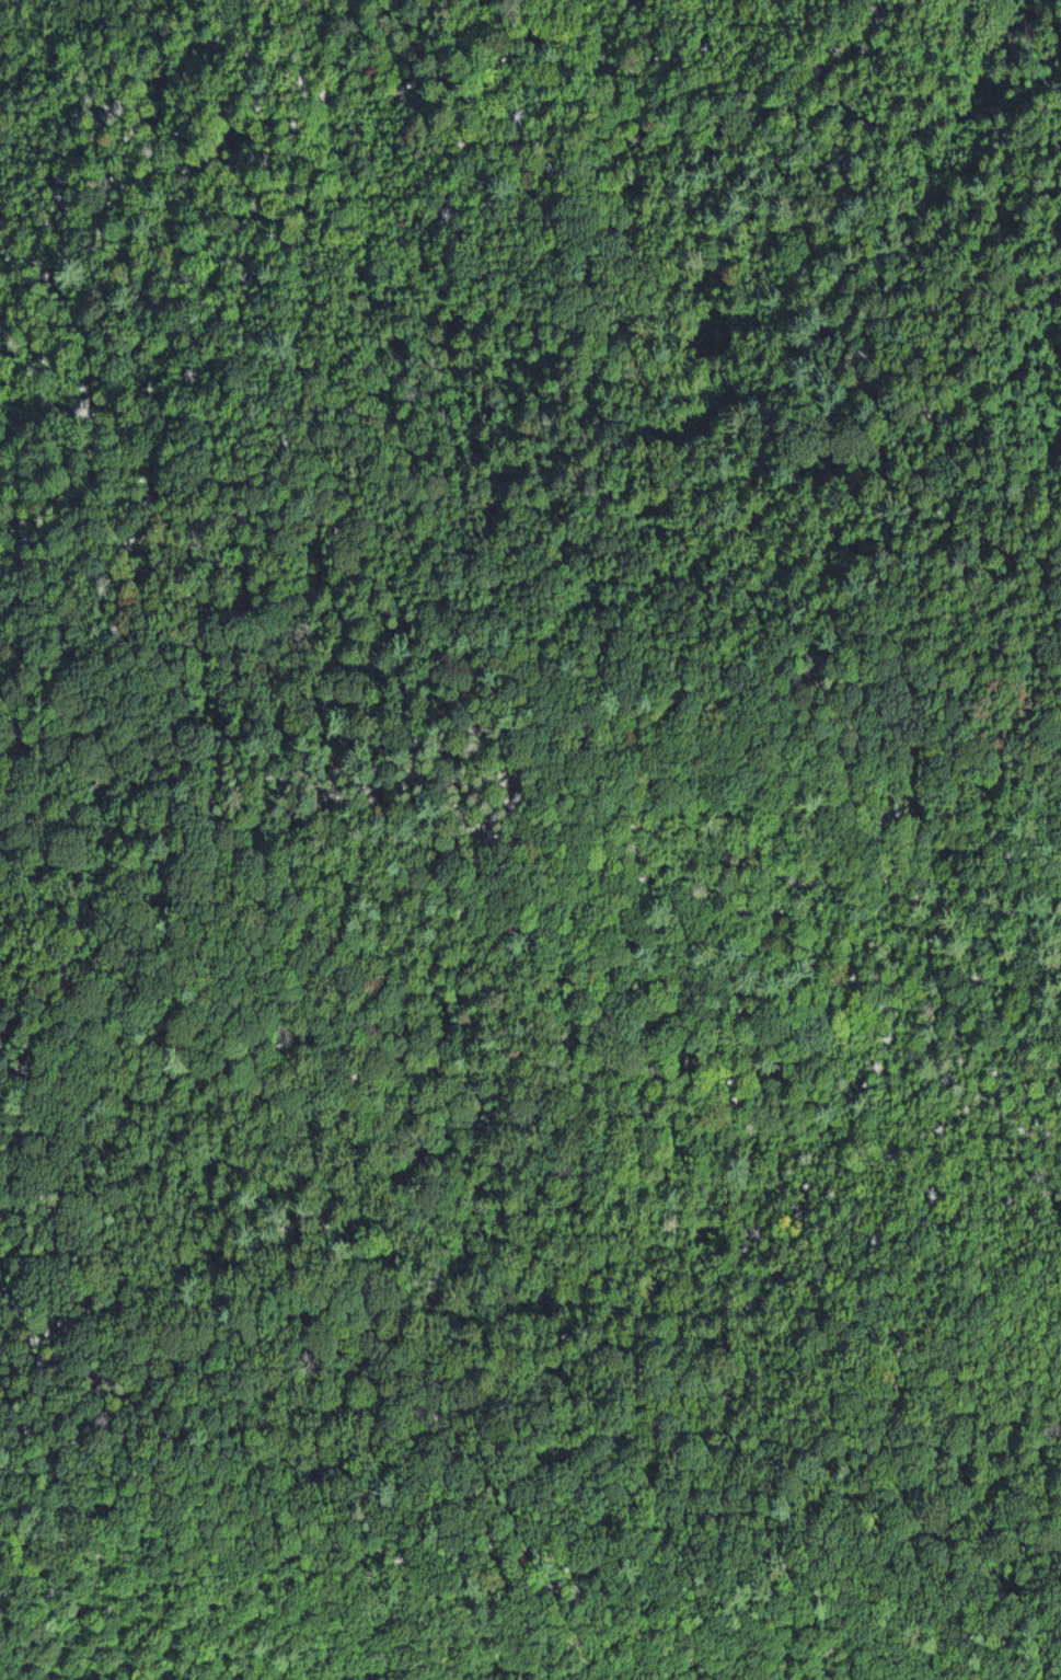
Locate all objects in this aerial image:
road: (78, 46)

